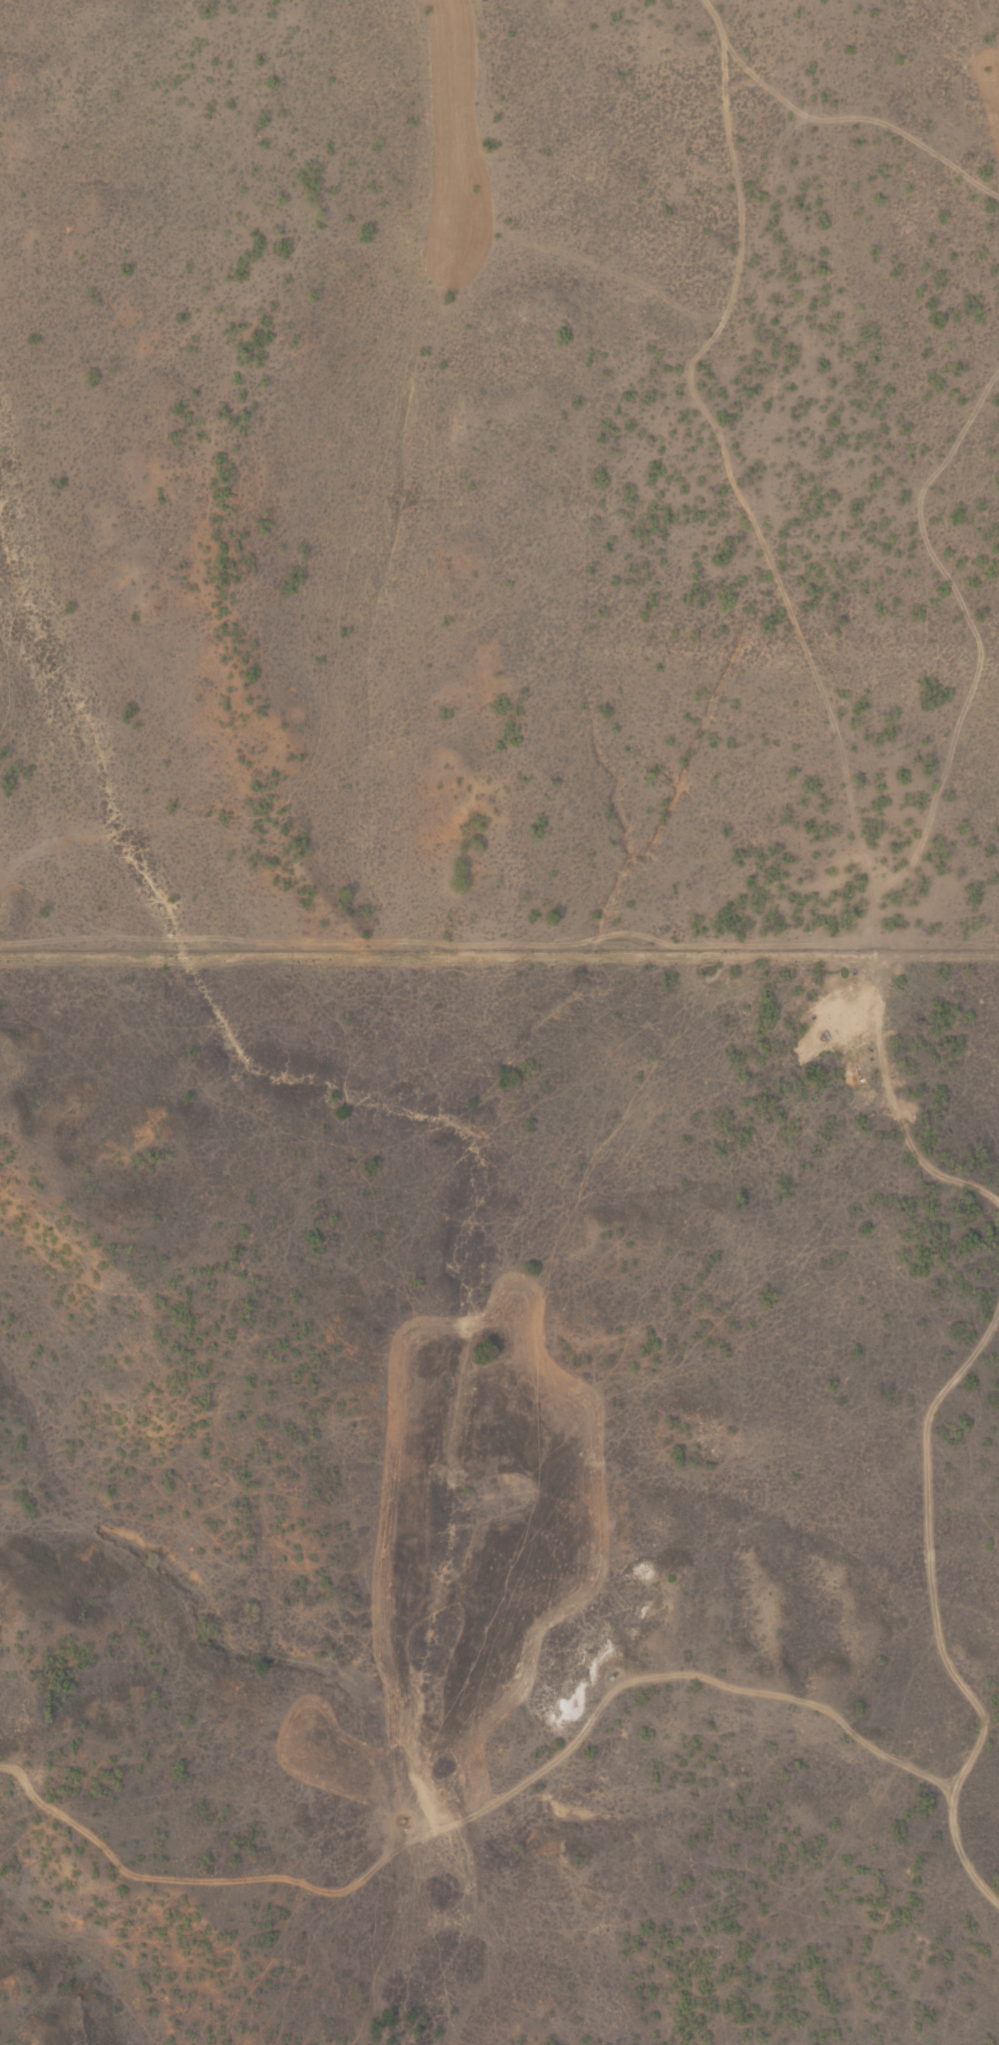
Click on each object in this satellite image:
road: (854, 732)
road: (959, 1787)

